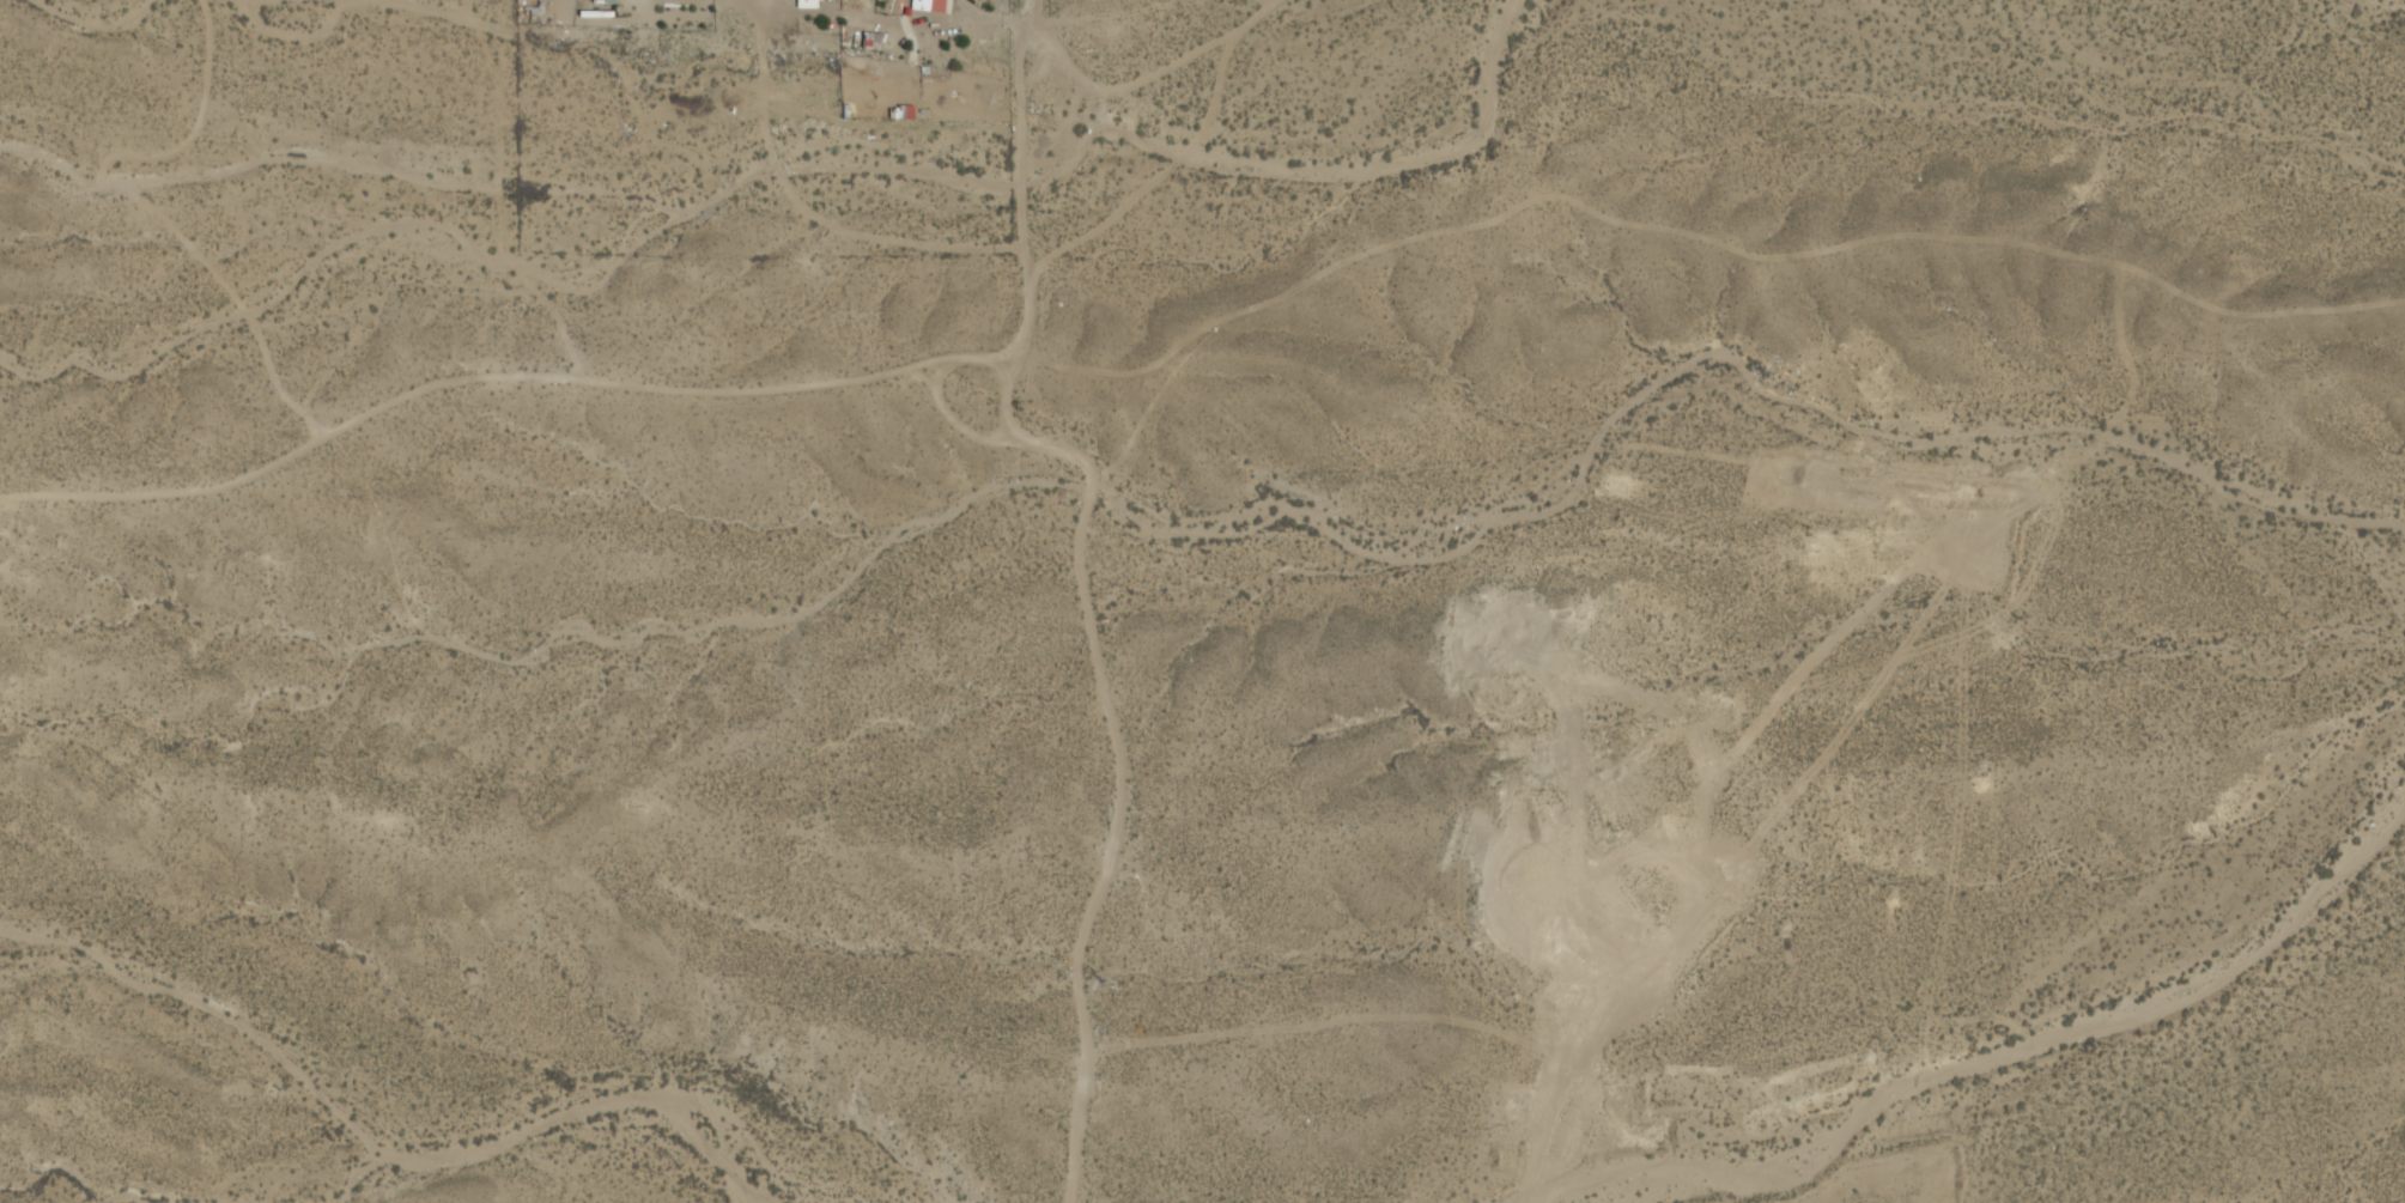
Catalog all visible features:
building: (877, 43)

